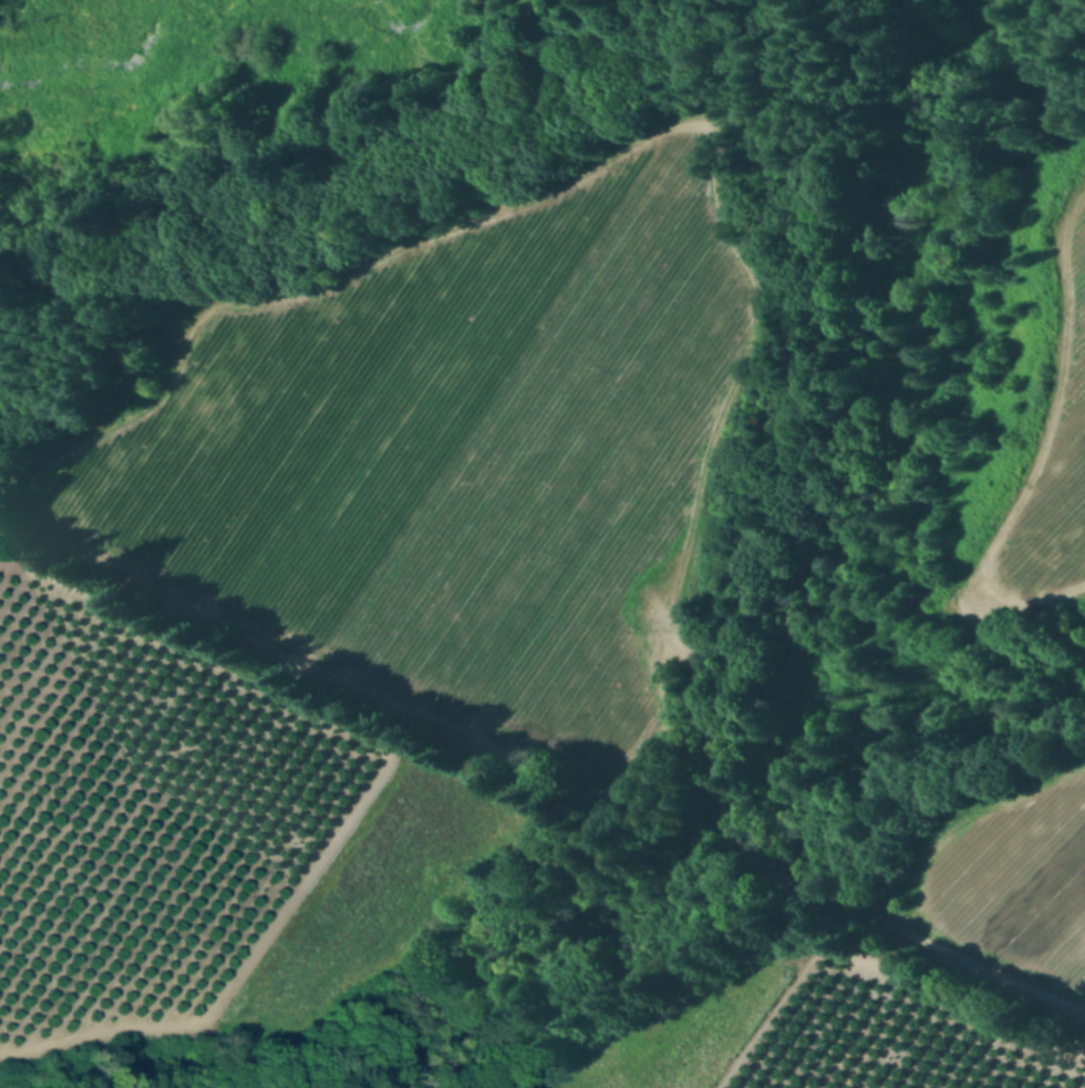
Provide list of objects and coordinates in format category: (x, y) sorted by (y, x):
crop: (1046, 458)
crop: (1020, 868)

